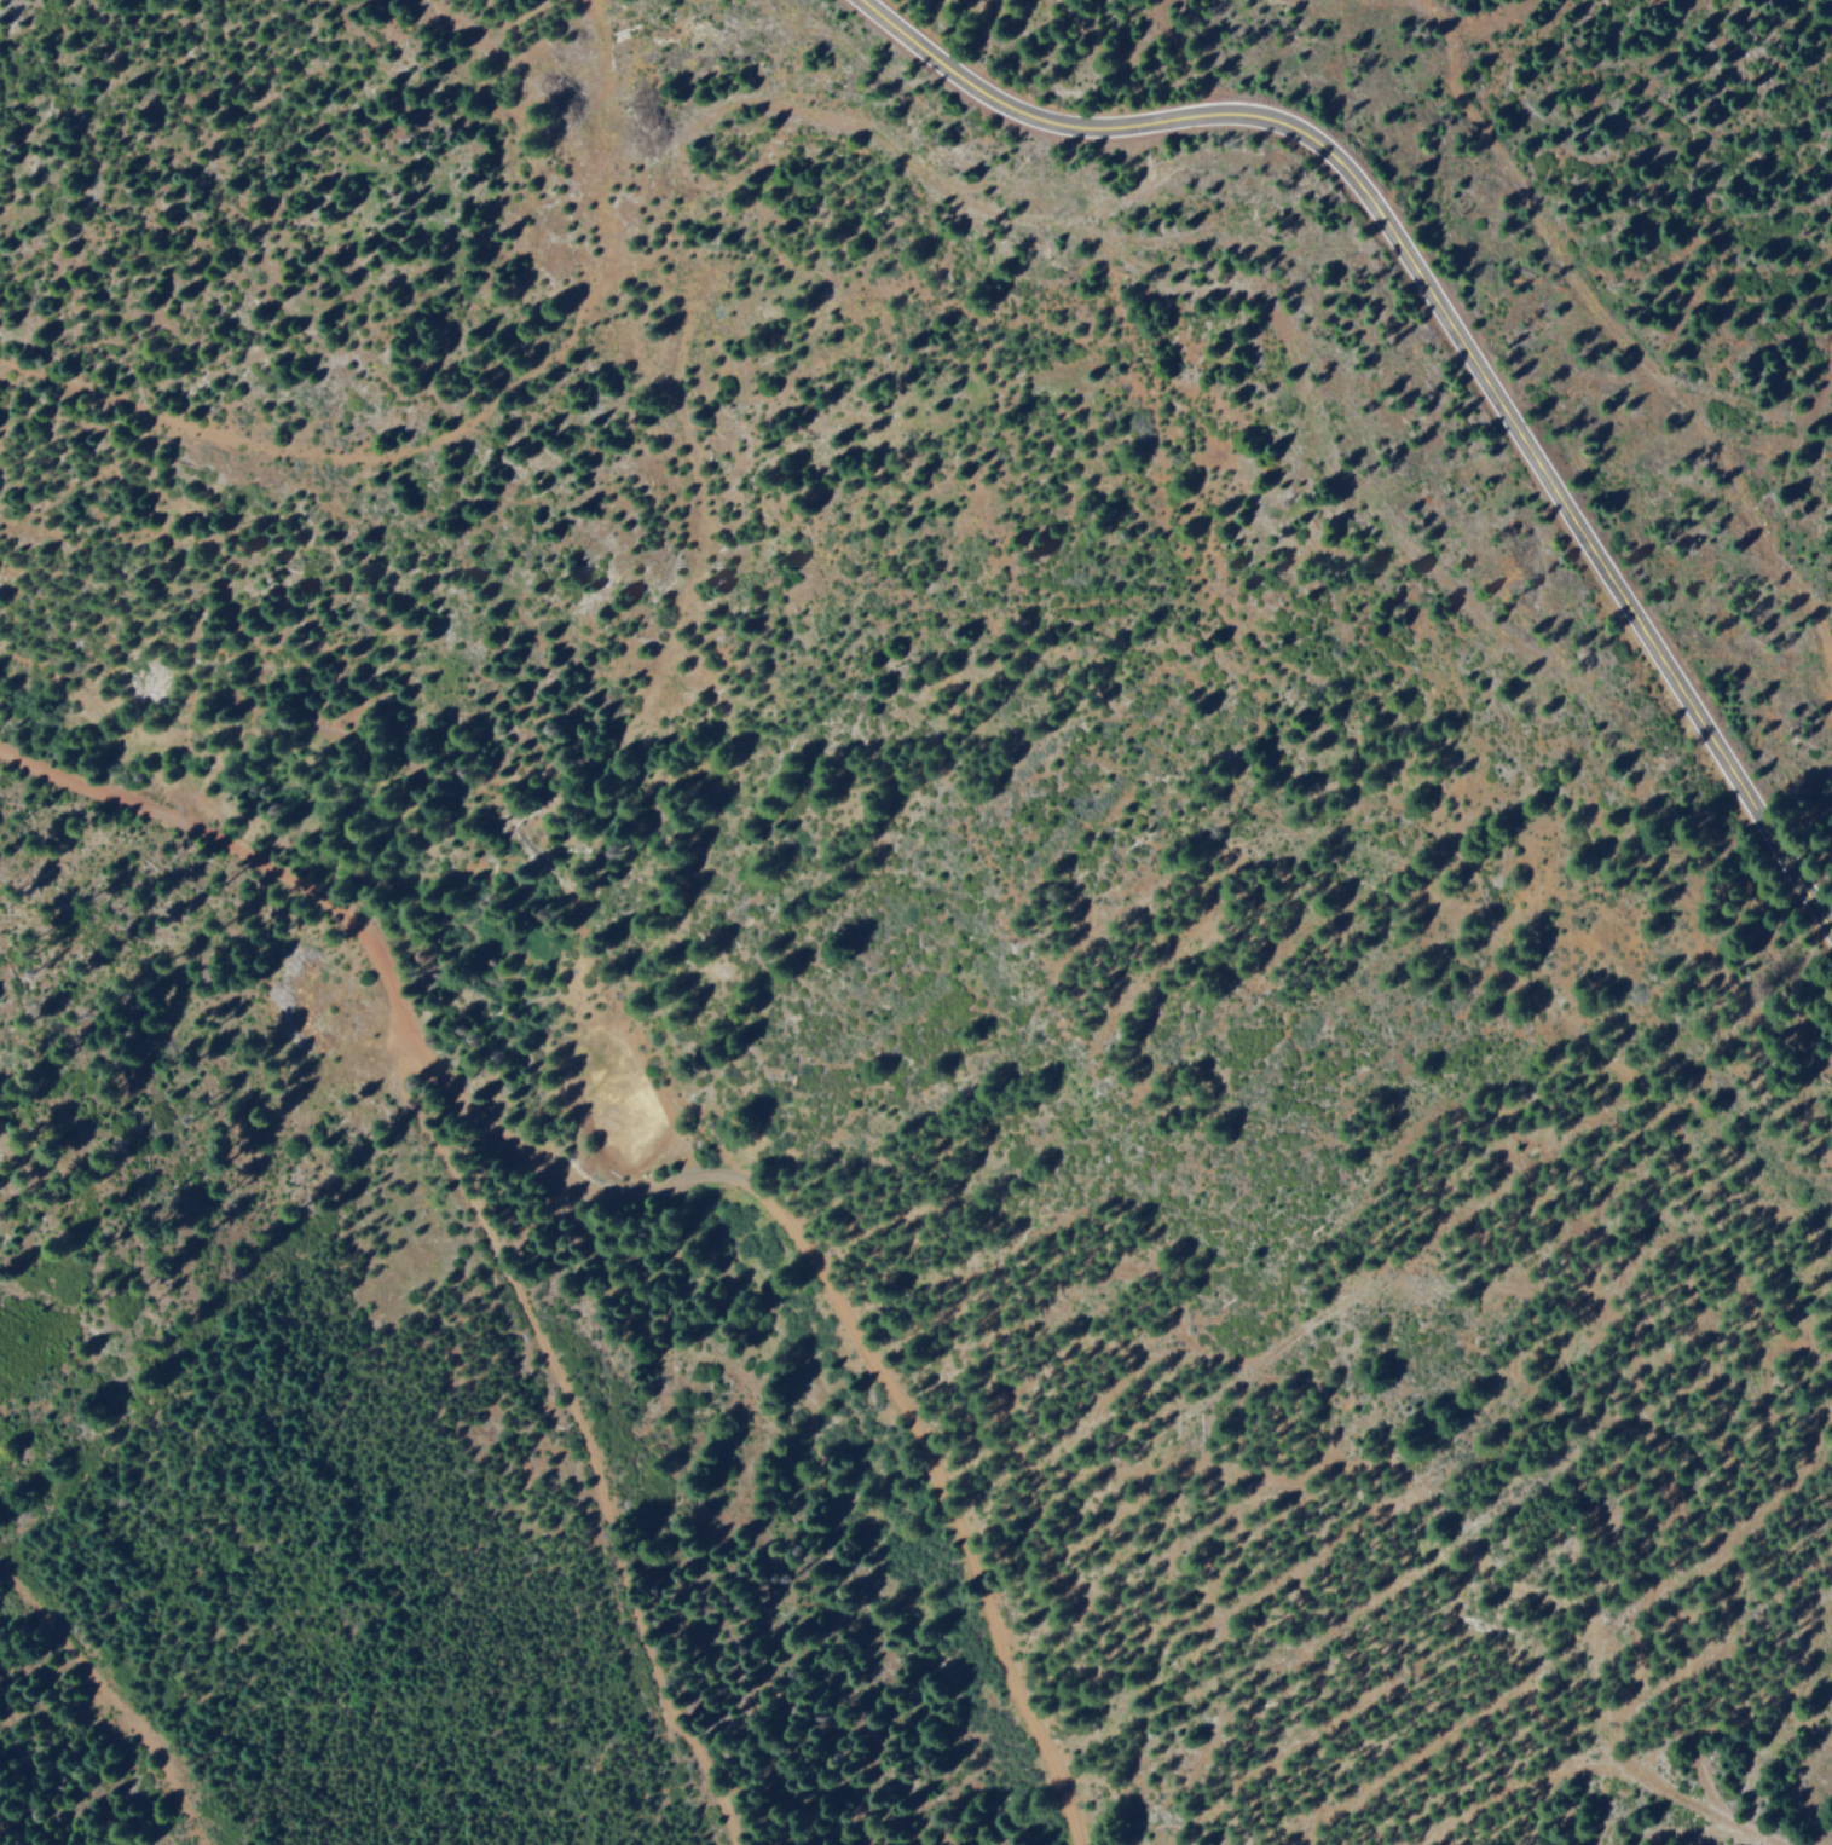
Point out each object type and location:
road: (1451, 314)

